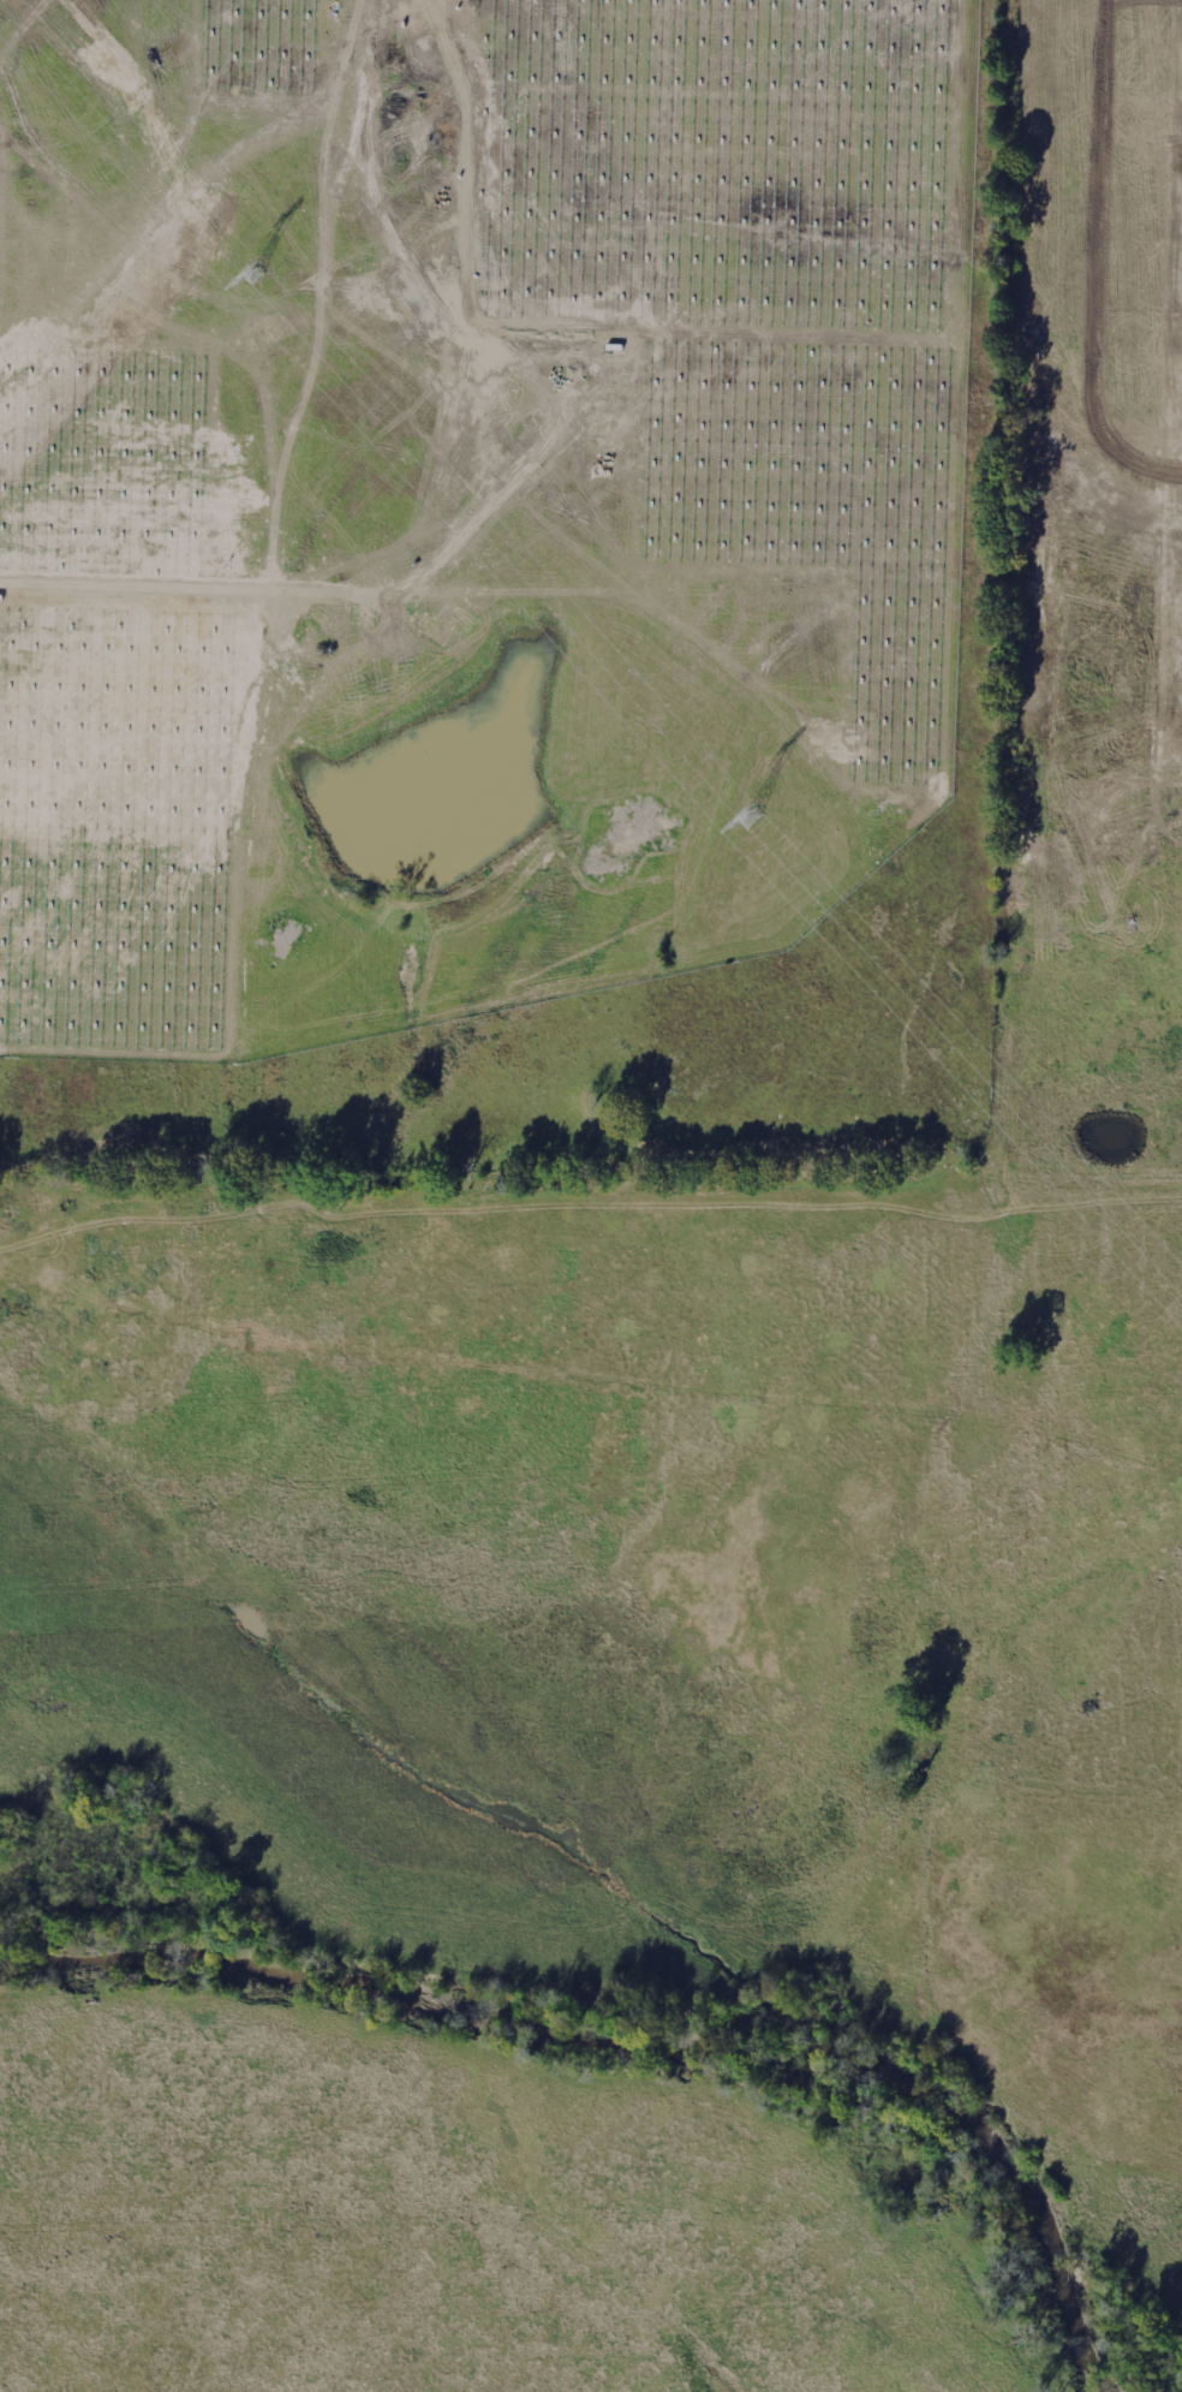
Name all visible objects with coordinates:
power tower: (258, 278)
solar farm: (465, 498)
power tower: (752, 817)

